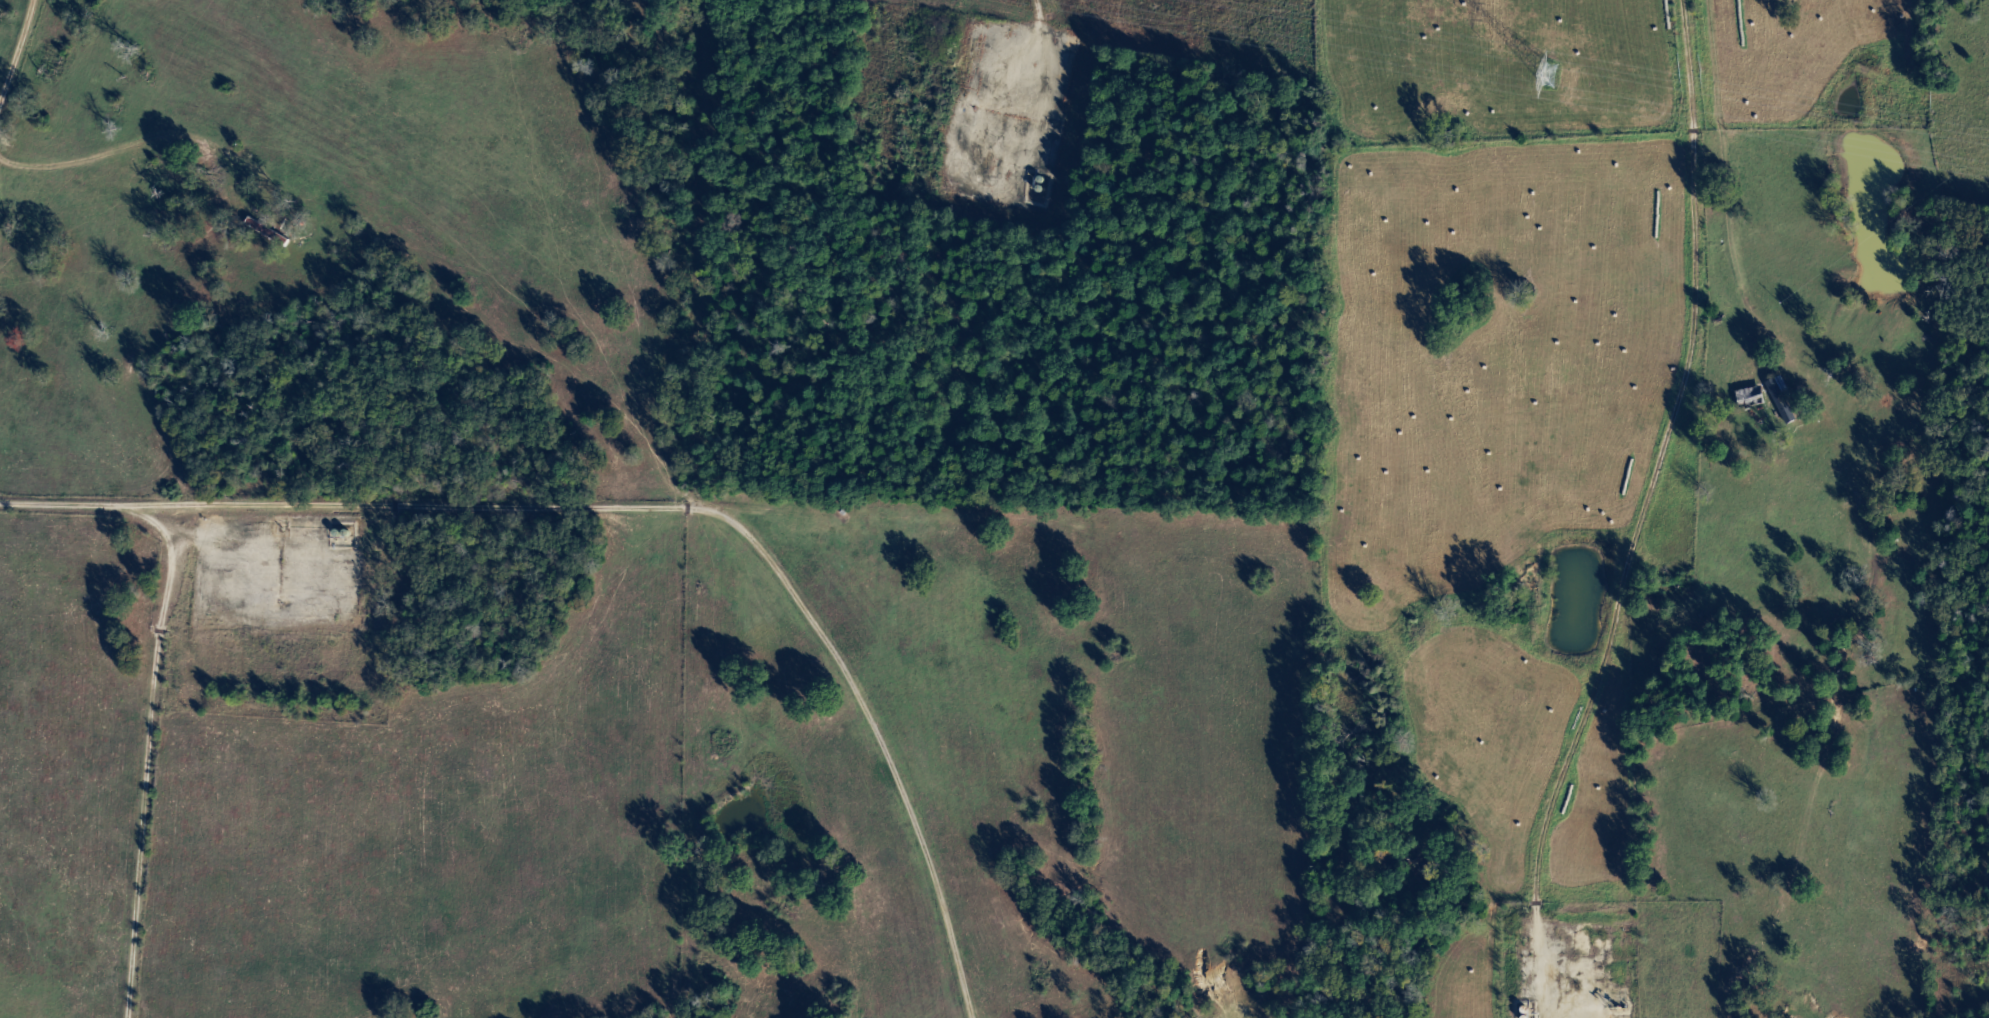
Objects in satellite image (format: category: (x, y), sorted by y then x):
power tower: (1572, 78)
road: (1953, 247)
building: (1750, 397)
road: (1835, 503)

